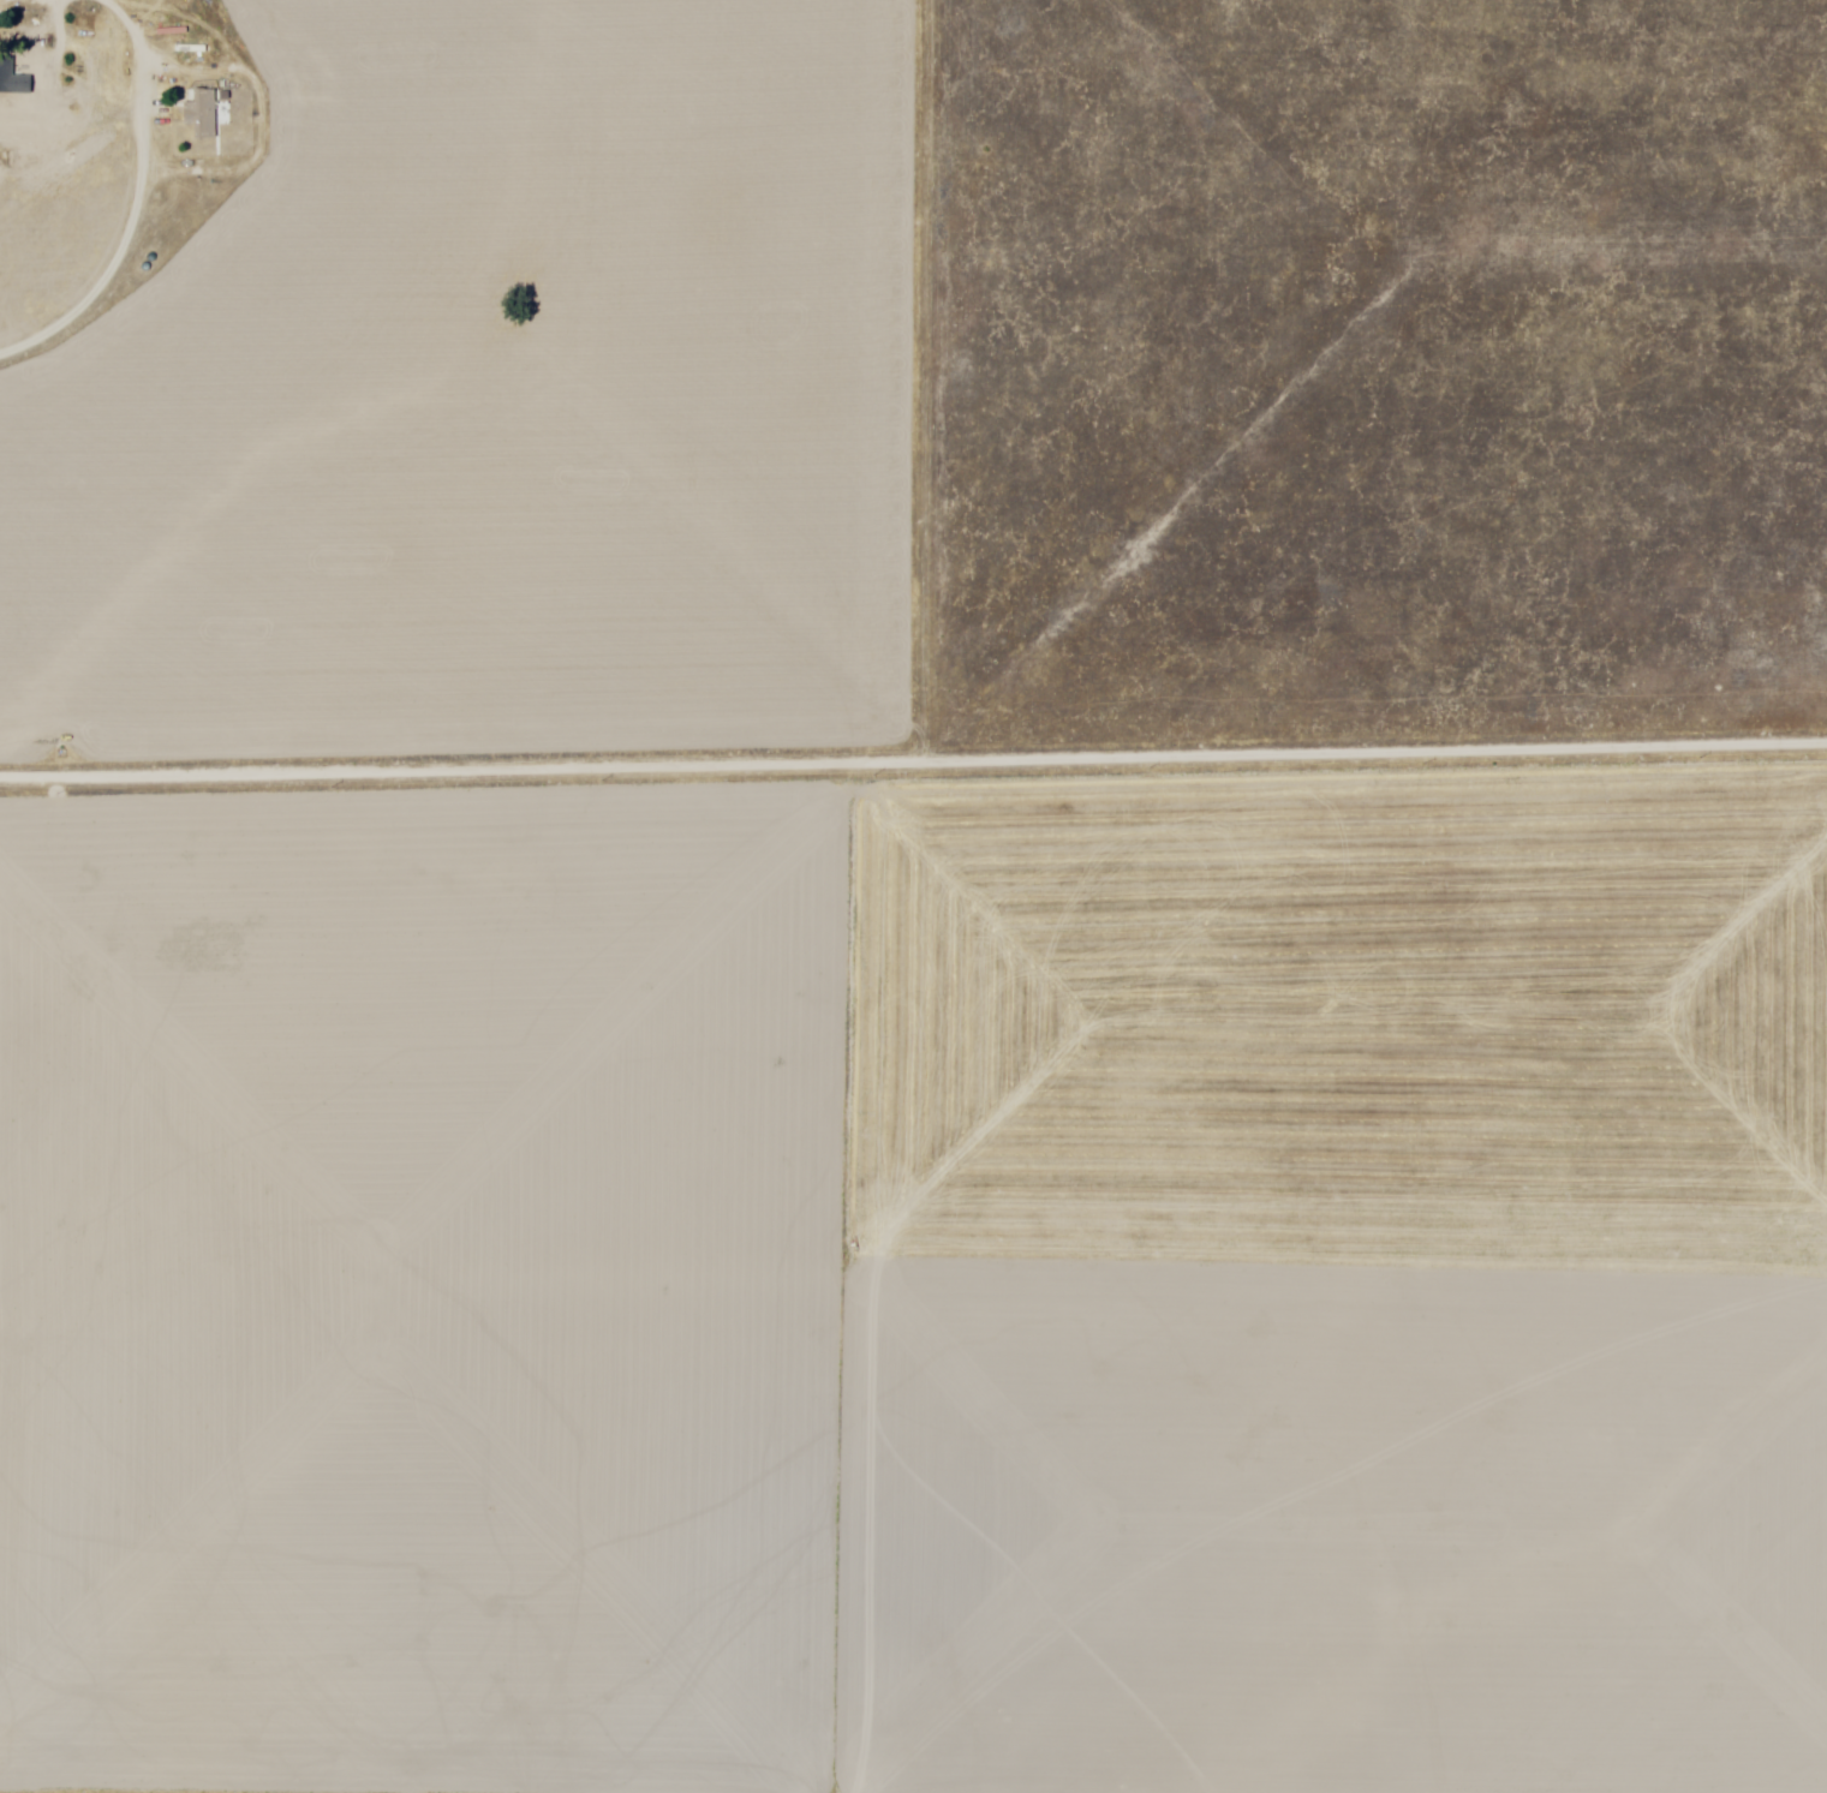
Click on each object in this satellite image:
building: (11, 79)
building: (199, 114)
road: (913, 759)

